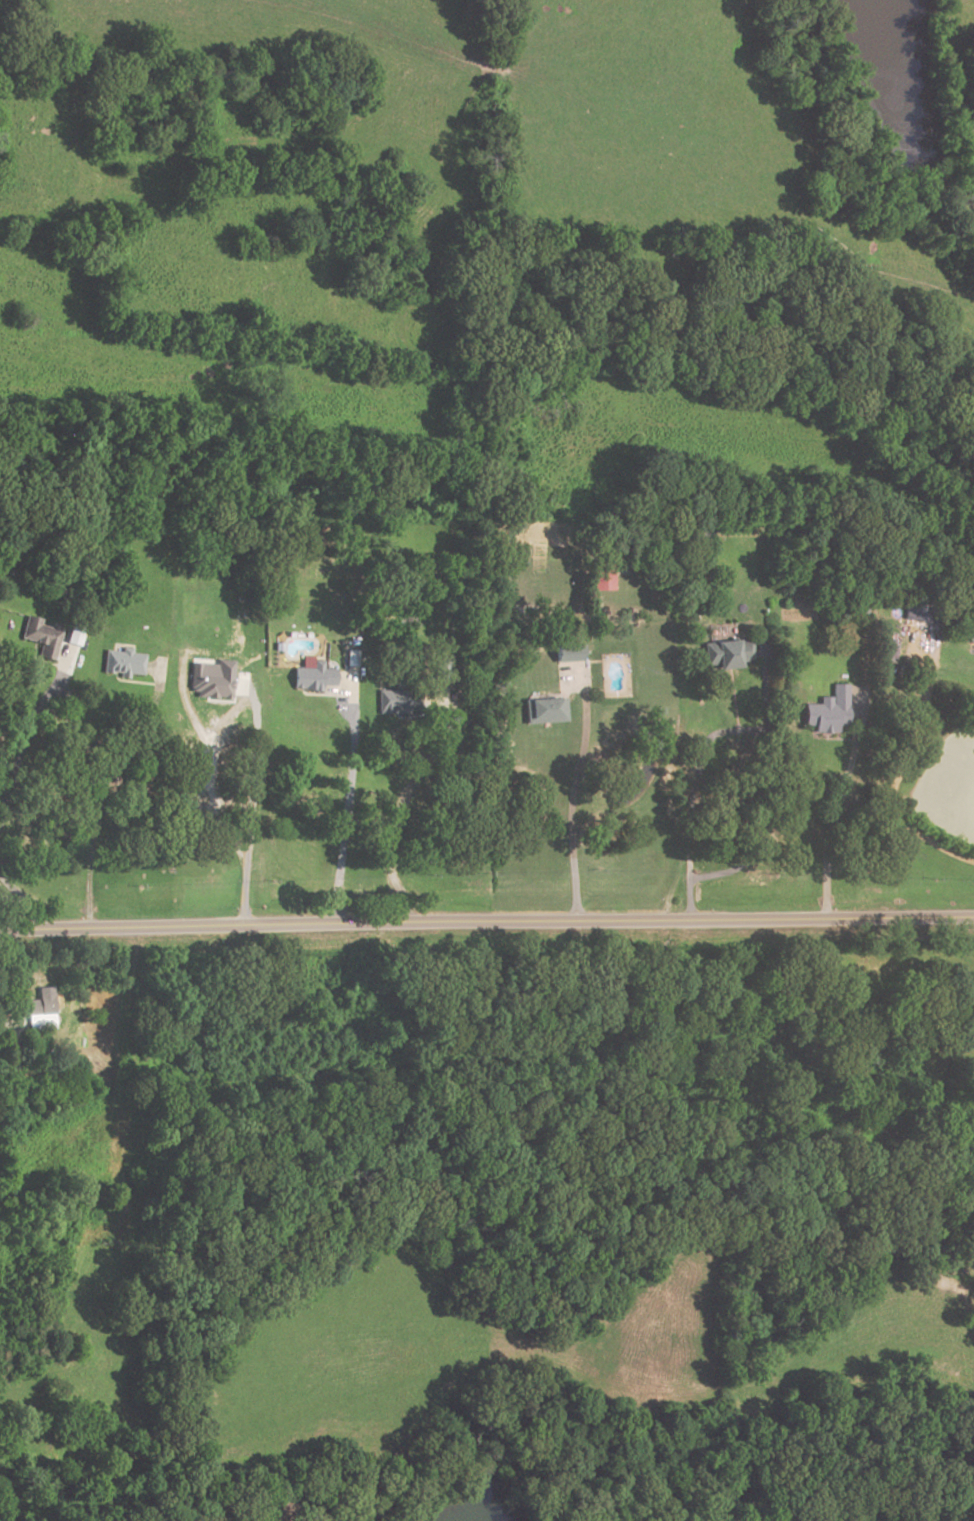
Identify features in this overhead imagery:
building: (604, 582)
building: (917, 612)
building: (41, 636)
building: (568, 652)
building: (728, 652)
building: (124, 661)
building: (312, 674)
building: (440, 677)
building: (212, 679)
building: (395, 700)
building: (545, 709)
building: (828, 711)
road: (23, 736)
road: (696, 765)
road: (902, 771)
road: (346, 804)
road: (835, 807)
road: (568, 814)
road: (97, 815)
road: (395, 815)
road: (759, 826)
road: (246, 831)
road: (25, 898)
road: (486, 921)
building: (40, 1005)

